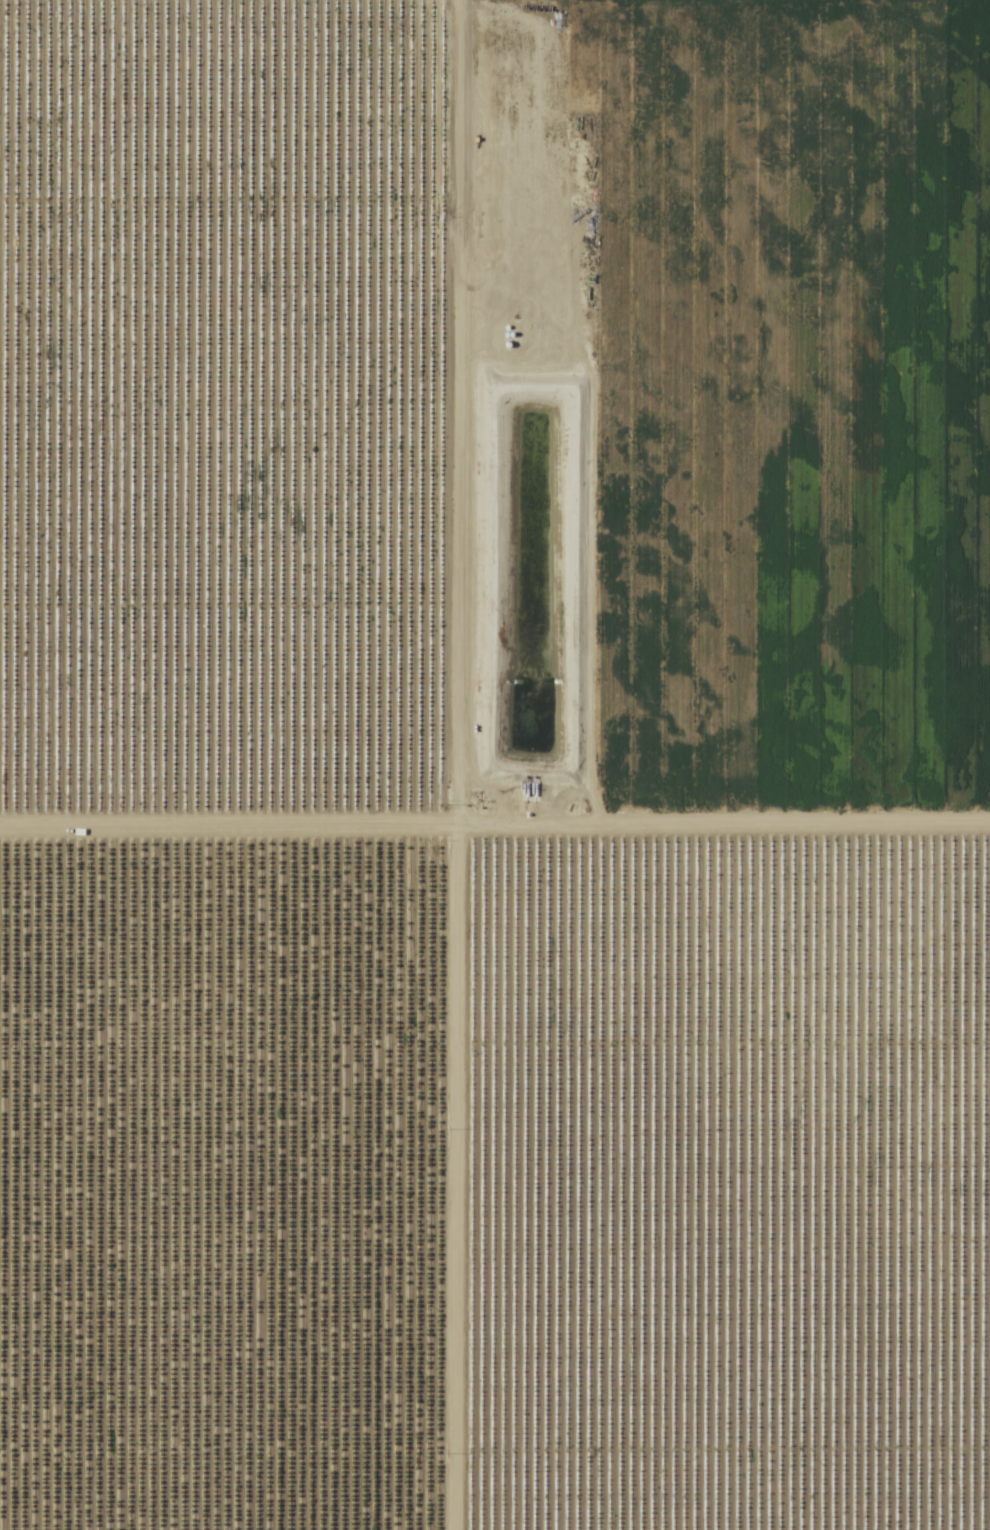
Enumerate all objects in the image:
road: (457, 765)
road: (494, 812)

